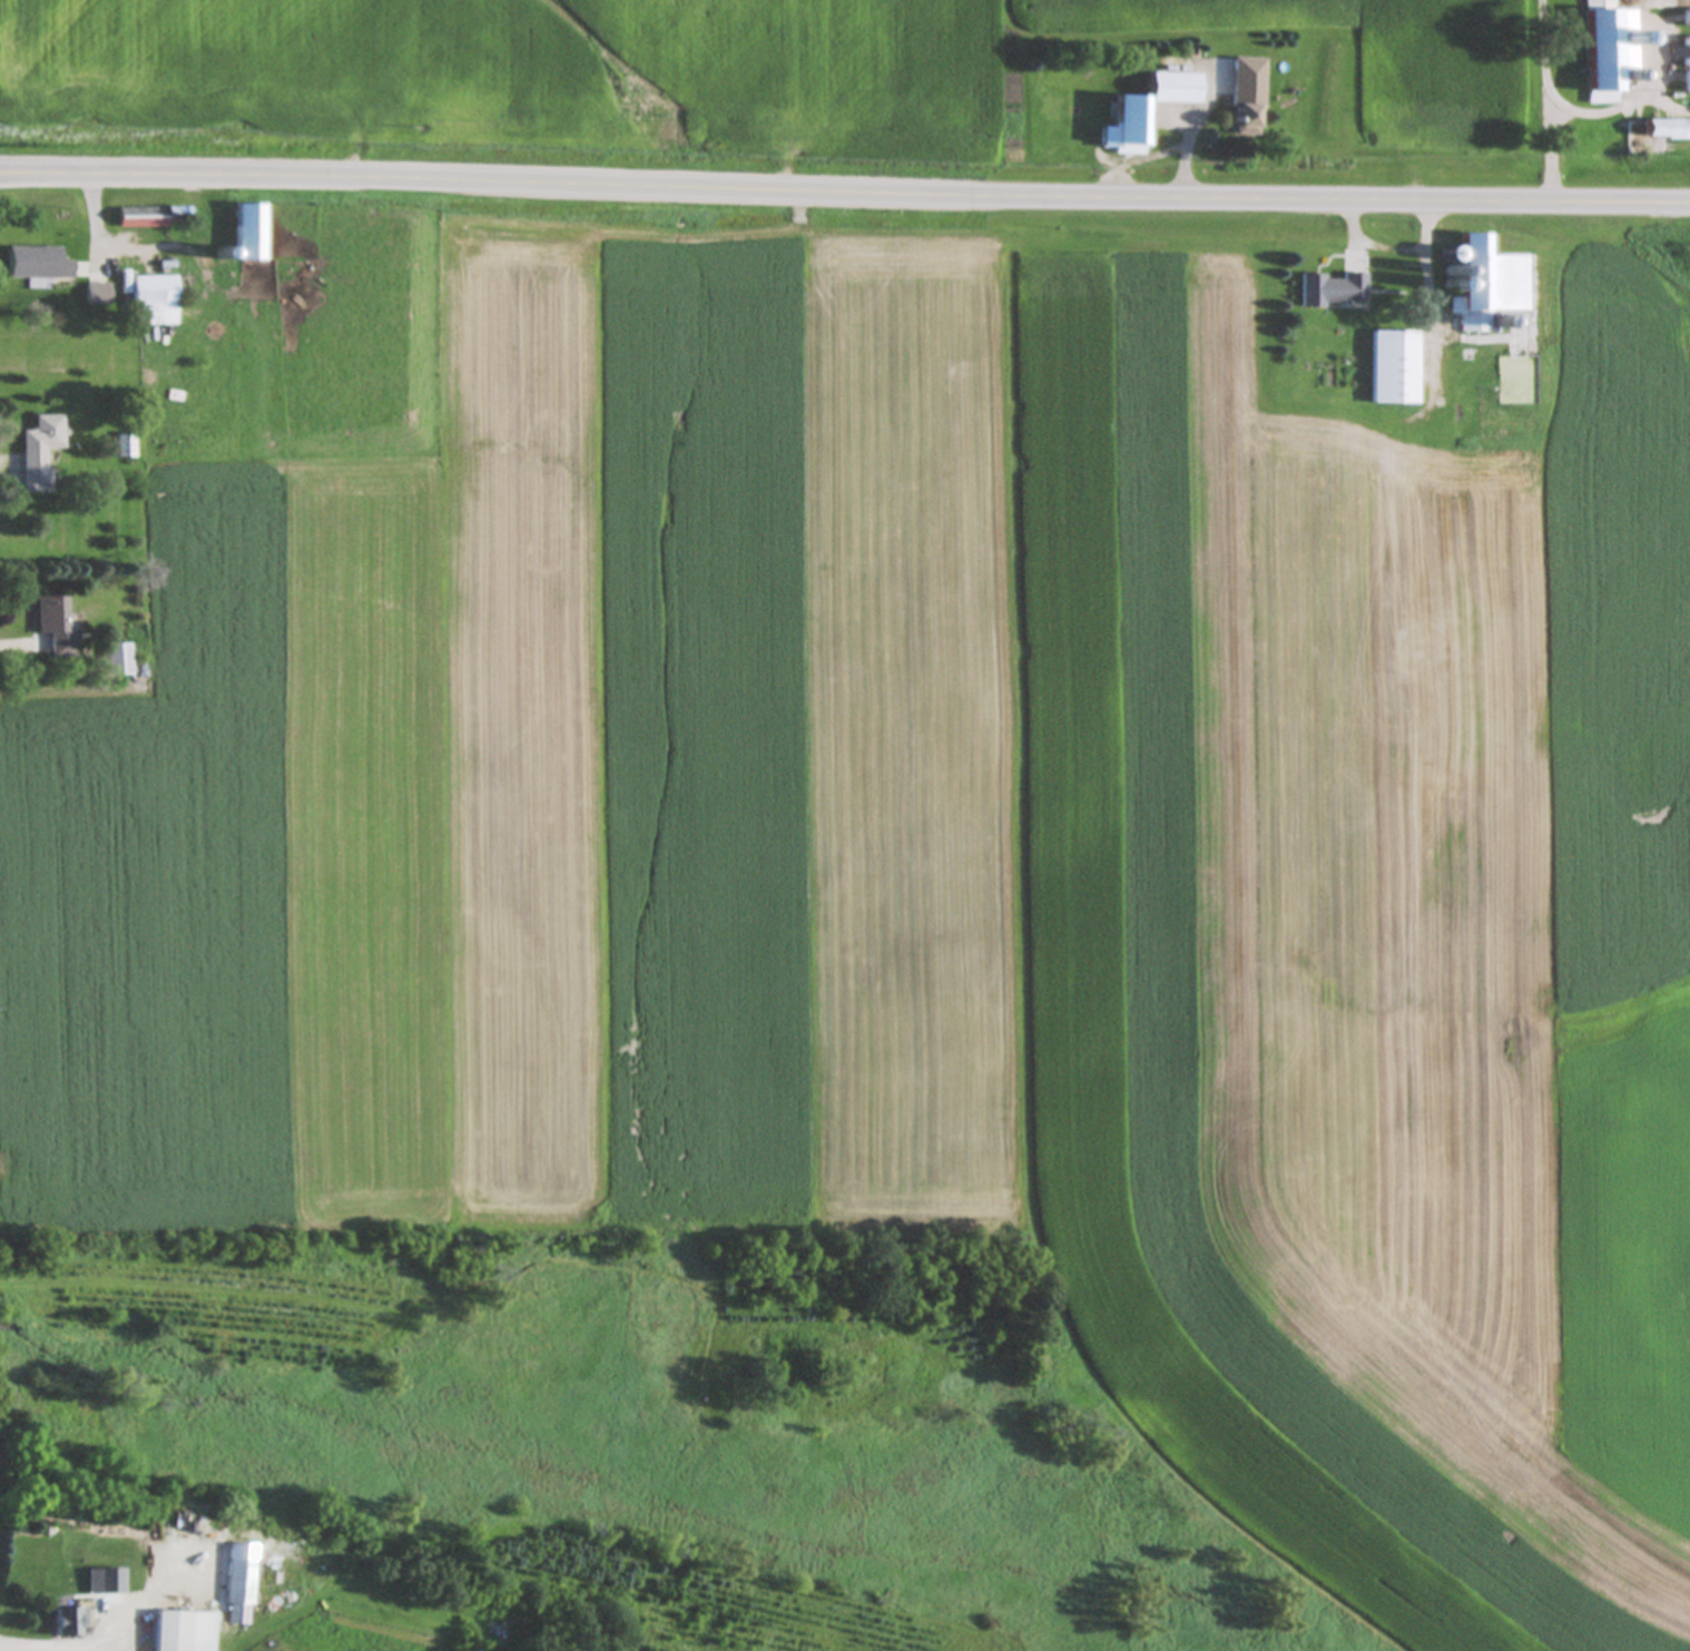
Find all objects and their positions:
building: (1689, 18)
building: (1605, 51)
building: (1689, 66)
road: (1657, 81)
building: (1250, 92)
building: (1150, 110)
building: (1669, 129)
road: (1192, 153)
road: (1144, 157)
road: (845, 189)
building: (154, 218)
building: (250, 235)
road: (1373, 244)
building: (39, 265)
road: (1426, 279)
building: (1487, 286)
building: (1335, 291)
building: (99, 295)
building: (156, 302)
building: (1396, 368)
building: (127, 446)
building: (42, 453)
building: (57, 625)
building: (119, 658)
road: (60, 691)
building: (240, 1592)
building: (70, 1622)
building: (174, 1631)
road: (114, 1643)

